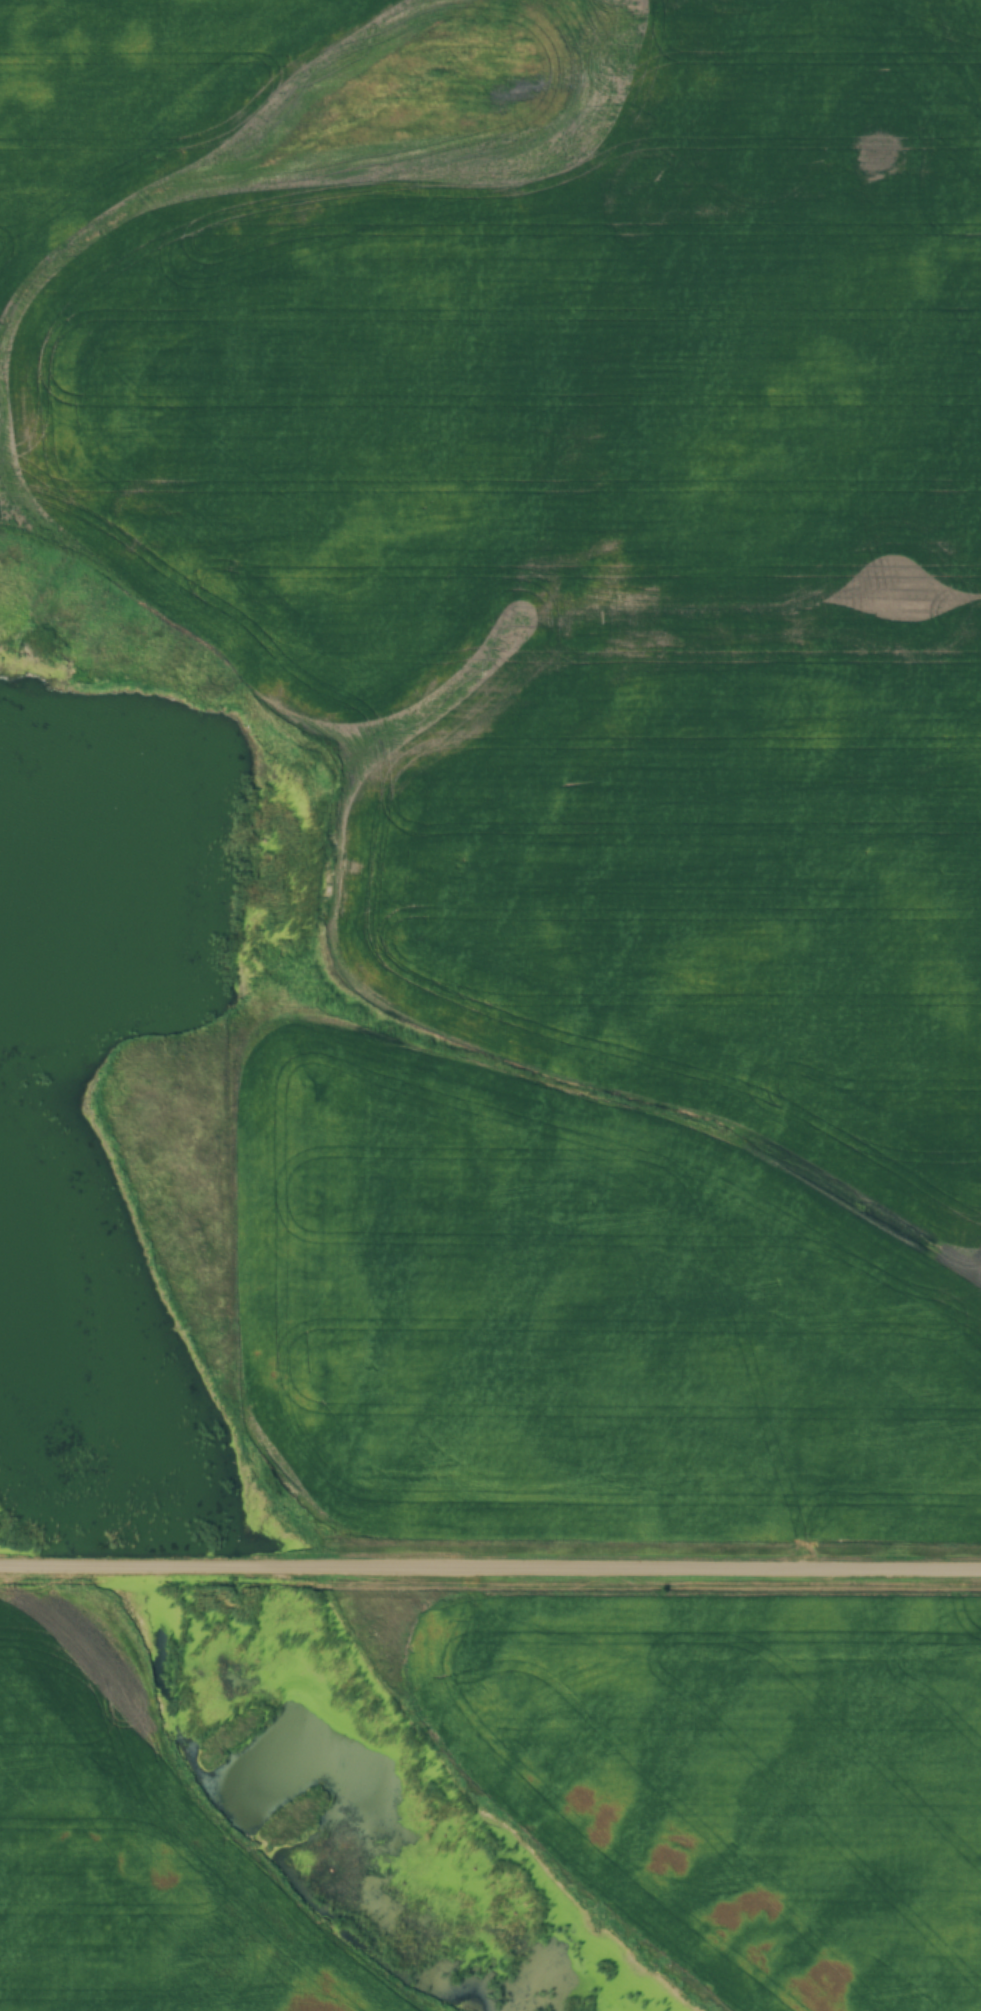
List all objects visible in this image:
road: (490, 1567)

